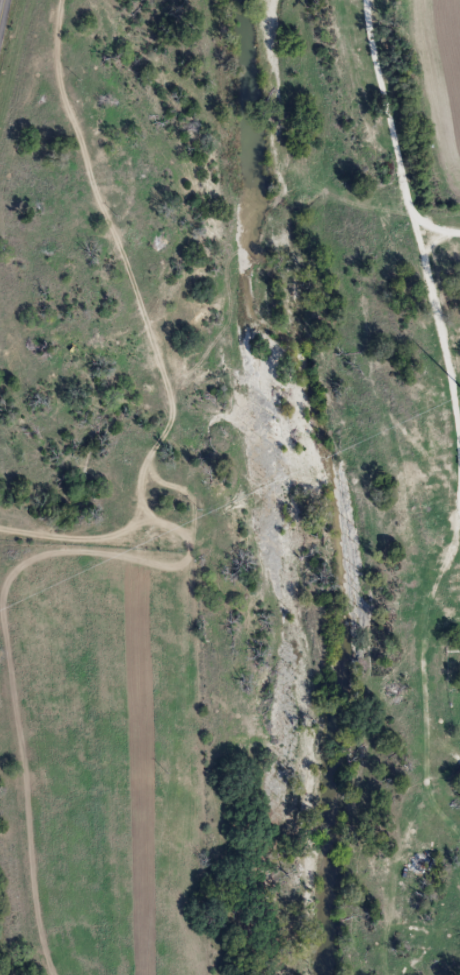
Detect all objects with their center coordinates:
road: (411, 220)
building: (458, 651)
building: (458, 784)
railway: (6, 923)

